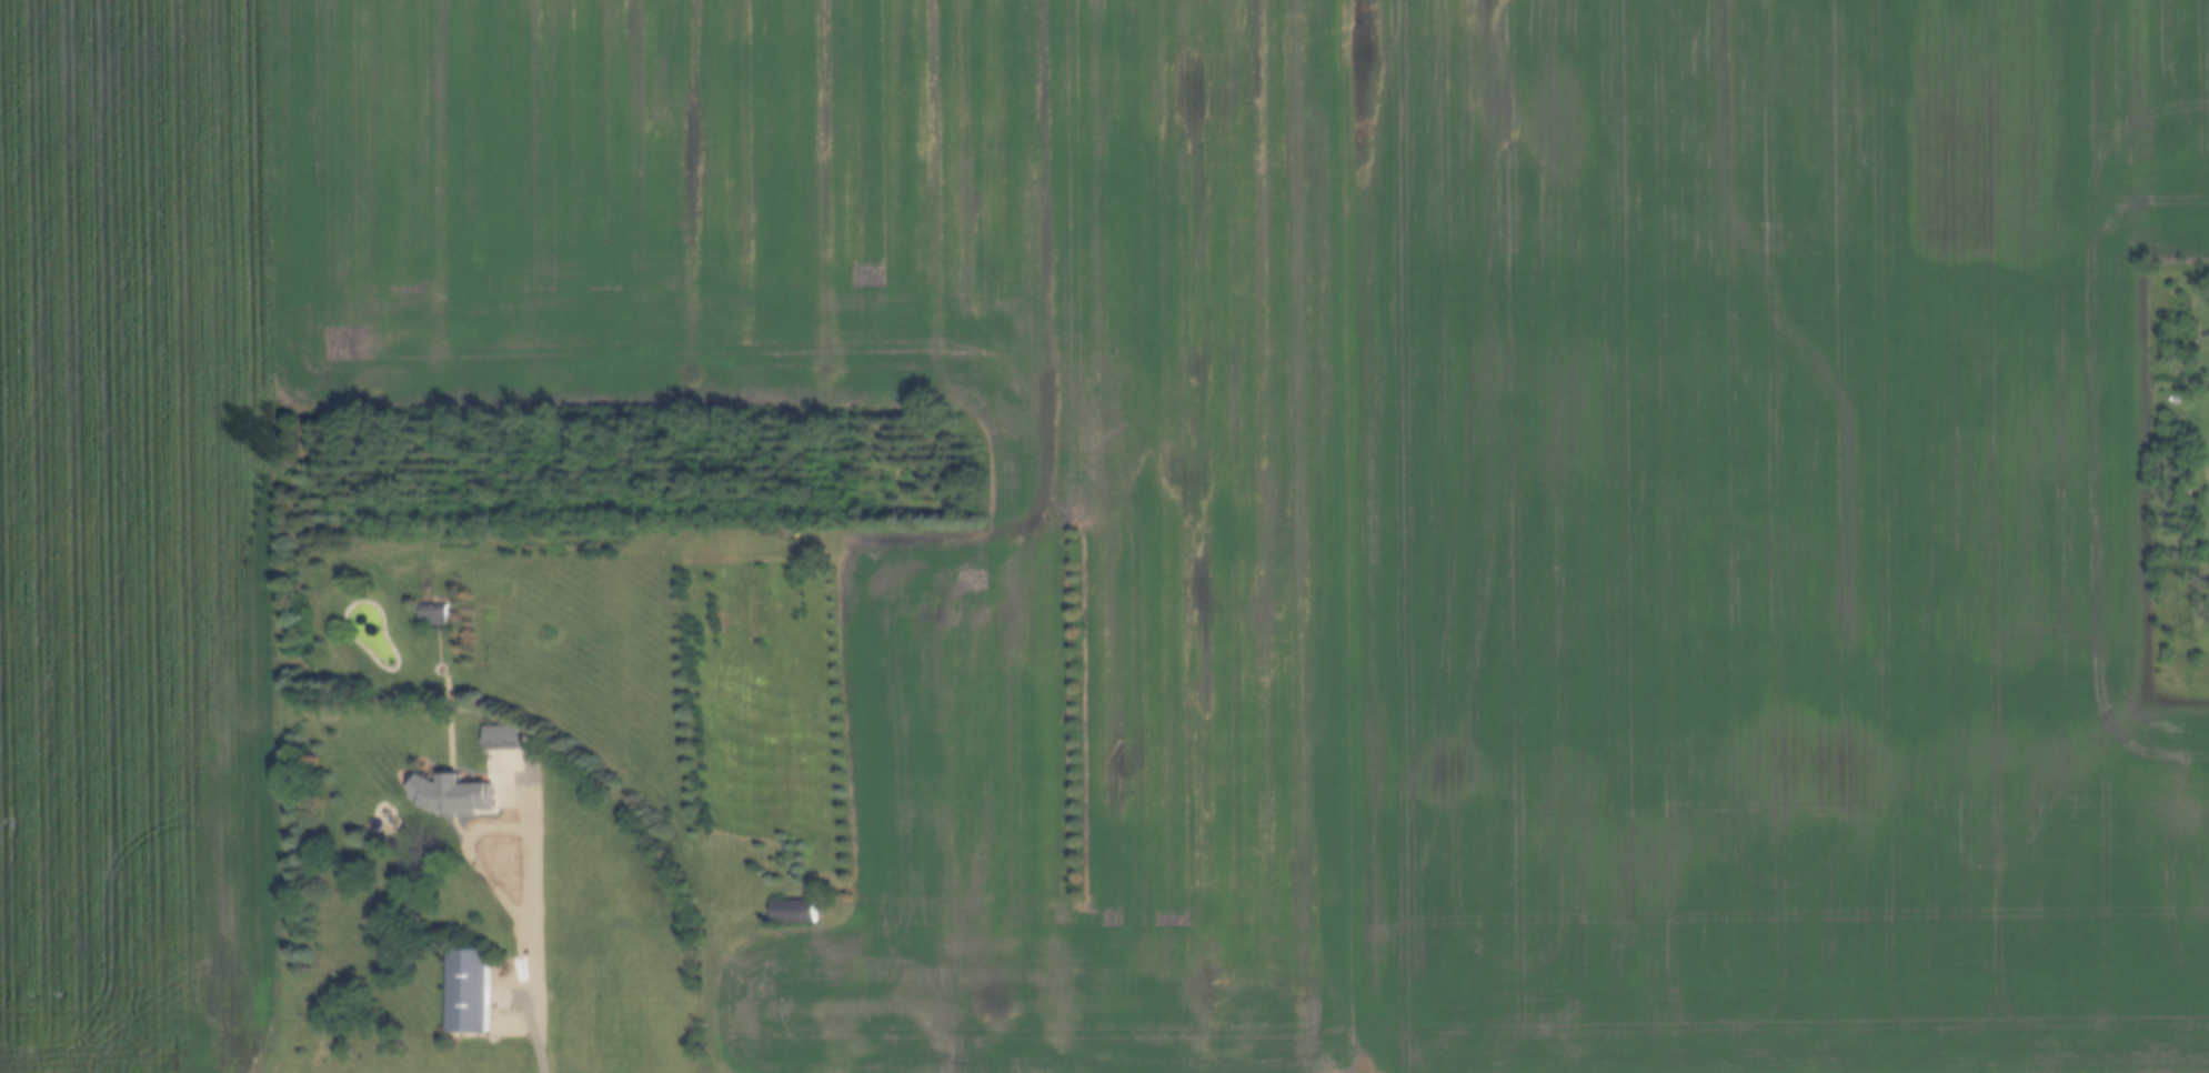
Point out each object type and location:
building: (433, 614)
building: (474, 739)
road: (1165, 858)
building: (795, 911)
road: (533, 921)
building: (469, 991)
road: (1083, 1066)

